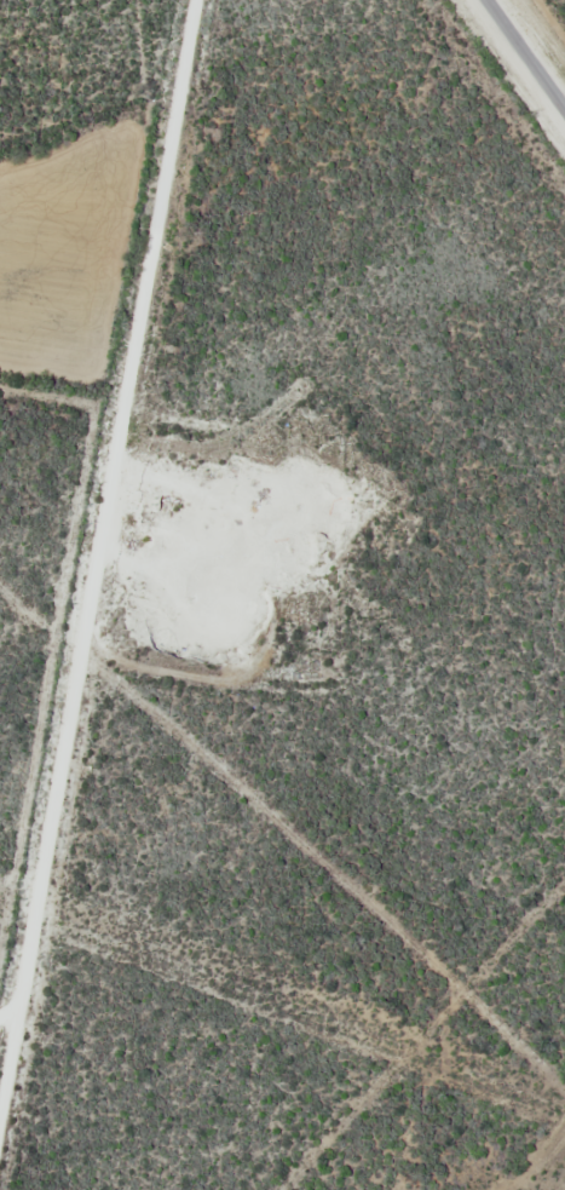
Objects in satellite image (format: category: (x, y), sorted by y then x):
road: (529, 51)

